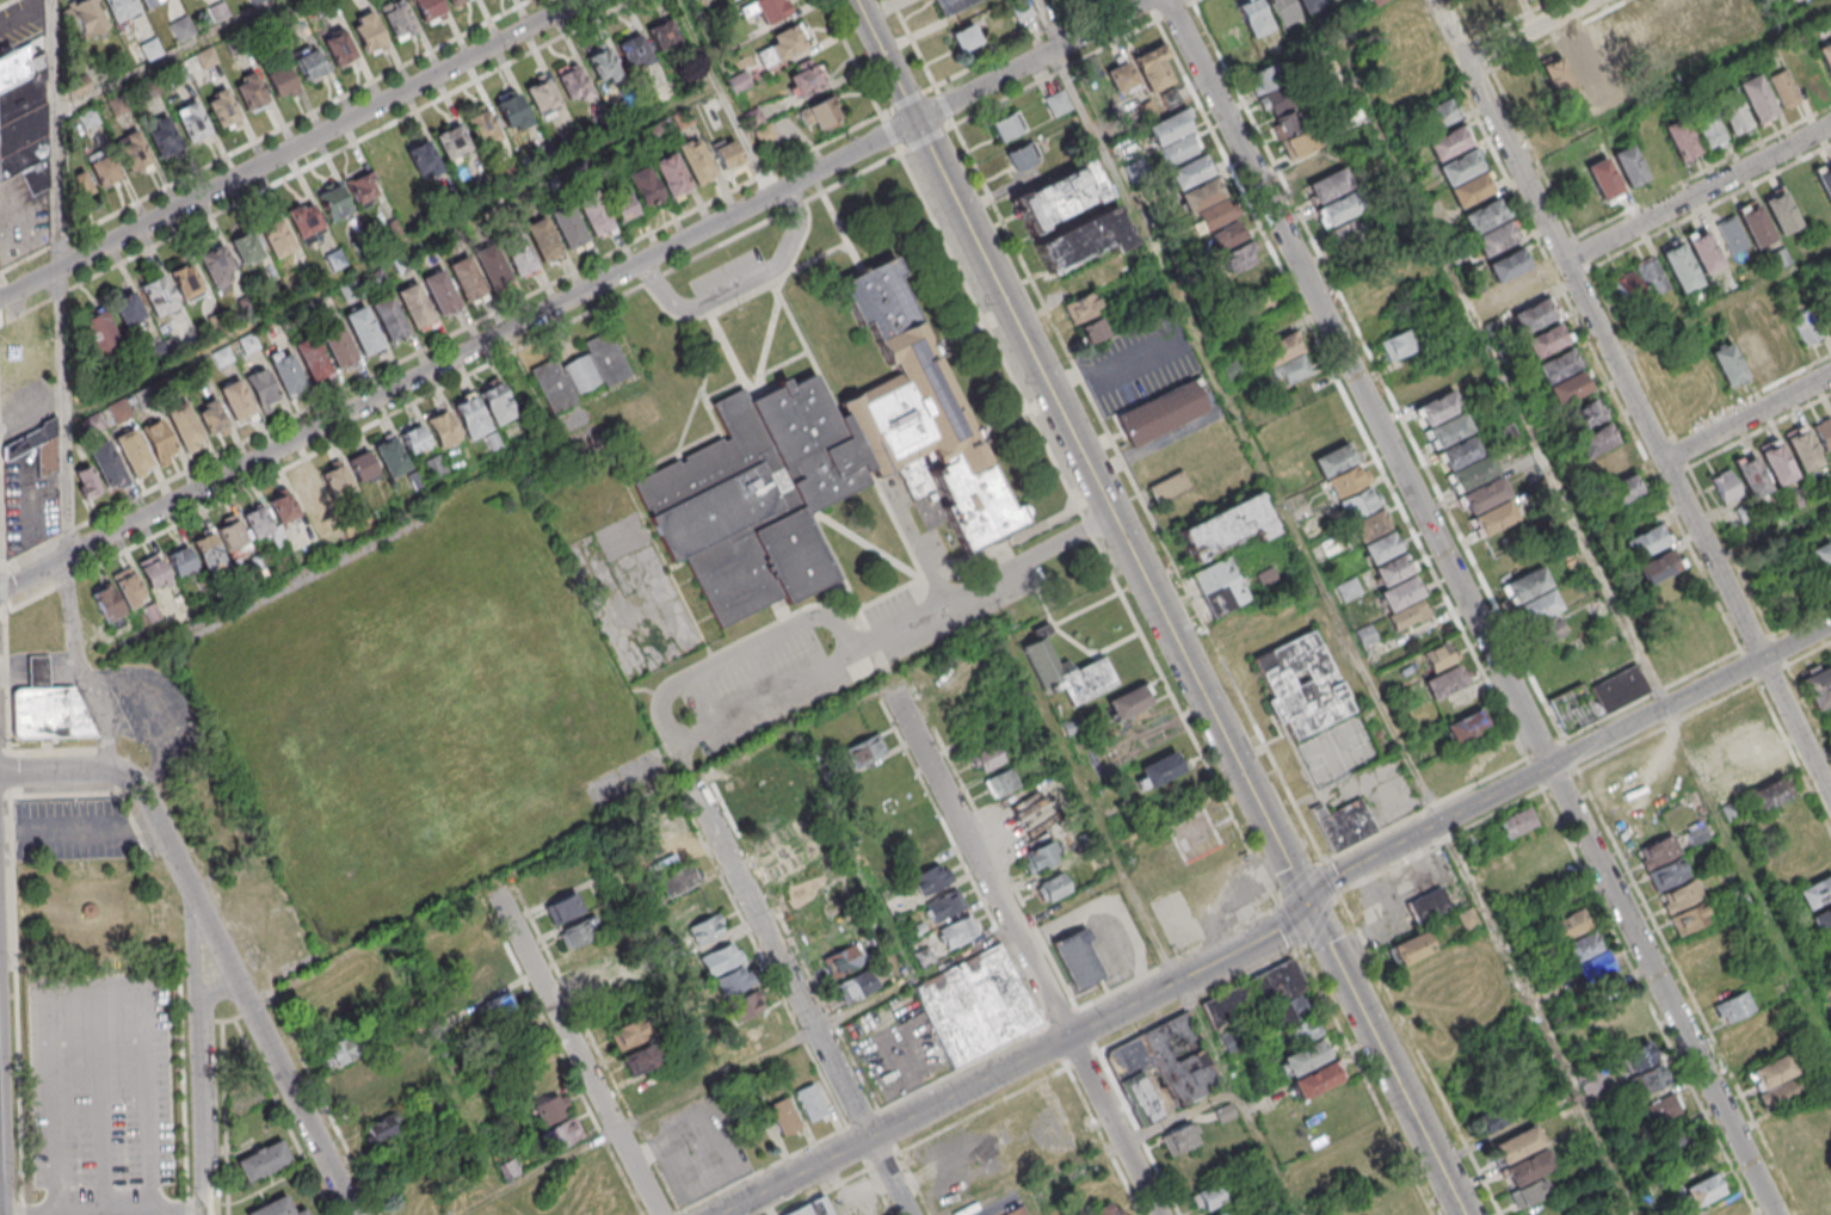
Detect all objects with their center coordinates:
building: (1328, 0)
building: (1056, 1)
building: (149, 2)
building: (258, 2)
road: (8, 4)
building: (458, 4)
building: (1308, 5)
building: (1502, 5)
building: (955, 7)
building: (1715, 7)
building: (119, 10)
building: (427, 11)
building: (1023, 11)
building: (1282, 11)
building: (771, 12)
building: (221, 13)
building: (1687, 14)
building: (1253, 17)
building: (87, 18)
road: (1053, 21)
building: (399, 24)
building: (1660, 24)
building: (183, 30)
road: (1456, 31)
road: (1533, 31)
building: (369, 37)
building: (665, 37)
building: (1634, 37)
building: (967, 42)
road: (1022, 43)
road: (914, 44)
building: (236, 45)
building: (340, 48)
building: (781, 48)
building: (1608, 49)
building: (153, 51)
building: (634, 51)
road: (853, 57)
building: (1826, 58)
road: (172, 60)
building: (208, 60)
road: (887, 60)
road: (1035, 60)
building: (1583, 63)
building: (309, 64)
building: (603, 64)
building: (1154, 68)
building: (178, 76)
building: (1121, 78)
building: (280, 82)
building: (1558, 82)
building: (573, 84)
road: (1677, 84)
building: (740, 85)
building: (807, 85)
building: (1275, 86)
building: (1784, 88)
building: (148, 92)
road: (725, 95)
building: (251, 97)
building: (543, 98)
road: (910, 101)
building: (1758, 103)
building: (1058, 104)
building: (119, 107)
road: (945, 107)
building: (223, 112)
building: (512, 112)
building: (1441, 113)
building: (822, 116)
building: (1732, 116)
building: (24, 121)
building: (753, 121)
building: (90, 122)
building: (684, 122)
building: (603, 124)
building: (193, 127)
building: (1170, 127)
building: (482, 128)
building: (1007, 128)
building: (1707, 131)
building: (1296, 132)
building: (660, 134)
road: (893, 135)
building: (766, 136)
road: (266, 137)
building: (573, 138)
building: (164, 141)
road: (929, 141)
building: (451, 142)
building: (1682, 143)
building: (1448, 147)
building: (1180, 148)
road: (295, 150)
building: (545, 154)
building: (135, 156)
building: (728, 156)
building: (1019, 160)
building: (423, 161)
road: (318, 164)
building: (697, 166)
building: (103, 168)
building: (1190, 171)
building: (1630, 171)
building: (1460, 173)
building: (1321, 177)
building: (672, 180)
building: (1604, 183)
building: (645, 186)
building: (1825, 186)
building: (556, 189)
road: (779, 189)
building: (362, 191)
building: (1471, 193)
road: (1701, 193)
building: (1058, 197)
building: (623, 206)
building: (334, 209)
building: (1336, 210)
building: (596, 217)
building: (1783, 217)
building: (1484, 221)
building: (304, 223)
building: (1757, 230)
building: (571, 233)
building: (1345, 234)
building: (1731, 235)
building: (1081, 240)
building: (278, 243)
building: (1496, 243)
building: (544, 246)
building: (364, 247)
road: (982, 252)
building: (246, 253)
road: (393, 253)
building: (1706, 257)
building: (519, 259)
building: (337, 263)
building: (403, 265)
building: (217, 267)
building: (1246, 269)
building: (1508, 270)
building: (493, 272)
building: (1682, 273)
road: (61, 276)
building: (1651, 277)
road: (741, 284)
building: (186, 285)
building: (468, 285)
building: (1628, 286)
building: (1521, 294)
building: (278, 296)
building: (442, 298)
building: (160, 302)
road: (1726, 307)
building: (128, 309)
building: (415, 312)
building: (1087, 317)
building: (1534, 319)
building: (220, 322)
road: (480, 322)
building: (390, 325)
building: (1806, 327)
building: (99, 331)
building: (276, 333)
building: (364, 337)
building: (1778, 338)
building: (1398, 344)
building: (249, 345)
building: (1547, 345)
building: (339, 351)
building: (1753, 351)
building: (1284, 353)
building: (223, 358)
building: (313, 364)
building: (1727, 364)
road: (1498, 370)
building: (580, 372)
building: (1559, 372)
building: (1294, 374)
building: (289, 382)
road: (454, 384)
building: (263, 394)
building: (1570, 394)
building: (143, 400)
building: (238, 407)
road: (356, 407)
building: (499, 408)
building: (121, 412)
building: (1439, 413)
road: (1750, 417)
building: (211, 418)
building: (1163, 418)
building: (473, 423)
building: (1583, 423)
building: (93, 424)
road: (1652, 425)
building: (185, 432)
building: (444, 432)
building: (1824, 432)
road: (1246, 434)
building: (1450, 434)
building: (159, 442)
building: (42, 446)
building: (1596, 448)
building: (1801, 449)
building: (132, 458)
building: (1336, 458)
building: (1462, 458)
building: (393, 462)
building: (1776, 462)
building: (362, 468)
building: (436, 468)
building: (107, 470)
building: (822, 470)
building: (1609, 471)
building: (1751, 475)
building: (1474, 479)
building: (337, 480)
building: (86, 482)
road: (2, 483)
building: (1349, 486)
building: (1725, 486)
building: (1171, 491)
road: (1140, 493)
building: (308, 494)
building: (1621, 497)
building: (1485, 501)
building: (1360, 508)
building: (270, 517)
road: (1089, 525)
building: (1494, 525)
road: (1774, 526)
building: (1370, 531)
building: (1228, 532)
building: (1646, 547)
building: (1382, 553)
building: (195, 556)
building: (1823, 560)
road: (35, 572)
building: (1658, 572)
building: (1393, 575)
building: (1222, 587)
building: (1349, 590)
building: (1529, 590)
road: (6, 592)
building: (121, 596)
building: (1401, 599)
road: (1468, 607)
building: (1539, 612)
road: (2, 615)
building: (1545, 631)
road: (1798, 640)
building: (1438, 655)
road: (80, 664)
building: (1067, 674)
building: (39, 677)
building: (1445, 681)
building: (1817, 685)
road: (8, 686)
building: (1302, 691)
road: (782, 696)
building: (1596, 698)
building: (1132, 705)
building: (50, 718)
building: (1467, 726)
building: (1074, 728)
building: (1745, 745)
building: (865, 751)
park: (1339, 754)
road: (1824, 755)
building: (988, 759)
building: (1158, 770)
building: (1759, 770)
road: (13, 773)
building: (751, 778)
road: (131, 781)
building: (1001, 784)
road: (103, 794)
building: (1769, 794)
road: (1253, 800)
building: (1037, 804)
building: (763, 809)
road: (1423, 809)
building: (1518, 822)
building: (1342, 825)
building: (776, 831)
parking lot: (75, 832)
building: (1696, 833)
road: (1438, 840)
building: (667, 847)
building: (1657, 851)
building: (920, 853)
building: (794, 857)
building: (1038, 859)
road: (978, 862)
building: (1806, 869)
building: (1667, 874)
road: (1747, 876)
road: (1331, 877)
building: (932, 880)
road: (1297, 880)
building: (678, 881)
building: (1054, 888)
park: (90, 889)
building: (1815, 892)
building: (1679, 896)
road: (1138, 901)
traffic signals: (1305, 902)
building: (1428, 905)
building: (944, 906)
building: (563, 908)
road: (1280, 912)
building: (1690, 918)
building: (1467, 919)
building: (1821, 921)
road: (1321, 924)
building: (1567, 925)
building: (707, 930)
building: (579, 932)
building: (958, 933)
road: (1293, 938)
building: (1827, 944)
road: (1247, 945)
building: (1411, 946)
building: (1582, 946)
building: (1075, 956)
road: (1177, 957)
building: (924, 958)
building: (721, 960)
building: (843, 962)
building: (1595, 968)
building: (598, 972)
building: (482, 981)
building: (734, 981)
road: (103, 986)
building: (856, 988)
building: (1258, 998)
road: (799, 999)
road: (1197, 1000)
road: (17, 1001)
road: (1647, 1001)
building: (975, 1005)
building: (747, 1007)
building: (1733, 1007)
building: (504, 1010)
road: (1060, 1017)
road: (1537, 1017)
building: (629, 1034)
road: (789, 1043)
building: (1303, 1046)
building: (343, 1050)
road: (578, 1054)
road: (1419, 1054)
building: (1638, 1055)
road: (201, 1056)
road: (275, 1056)
building: (642, 1060)
road: (1081, 1060)
building: (1163, 1067)
road: (961, 1068)
building: (1770, 1071)
building: (357, 1075)
building: (1650, 1078)
building: (1318, 1079)
parking lot: (104, 1083)
road: (1364, 1083)
road: (187, 1092)
building: (1780, 1093)
building: (810, 1103)
building: (370, 1105)
building: (1662, 1109)
building: (553, 1110)
road: (981, 1111)
building: (1496, 1114)
building: (784, 1116)
road: (1115, 1125)
building: (381, 1133)
road: (1138, 1134)
building: (562, 1135)
building: (1179, 1139)
road: (1102, 1141)
building: (1677, 1142)
building: (1516, 1145)
road: (1111, 1152)
building: (263, 1161)
road: (0, 1178)
road: (1281, 1189)
building: (1703, 1190)
building: (1207, 1198)
road: (1029, 1205)
building: (276, 1208)
building: (813, 1208)
building: (1106, 1209)
road: (103, 1211)
building: (1018, 1211)

